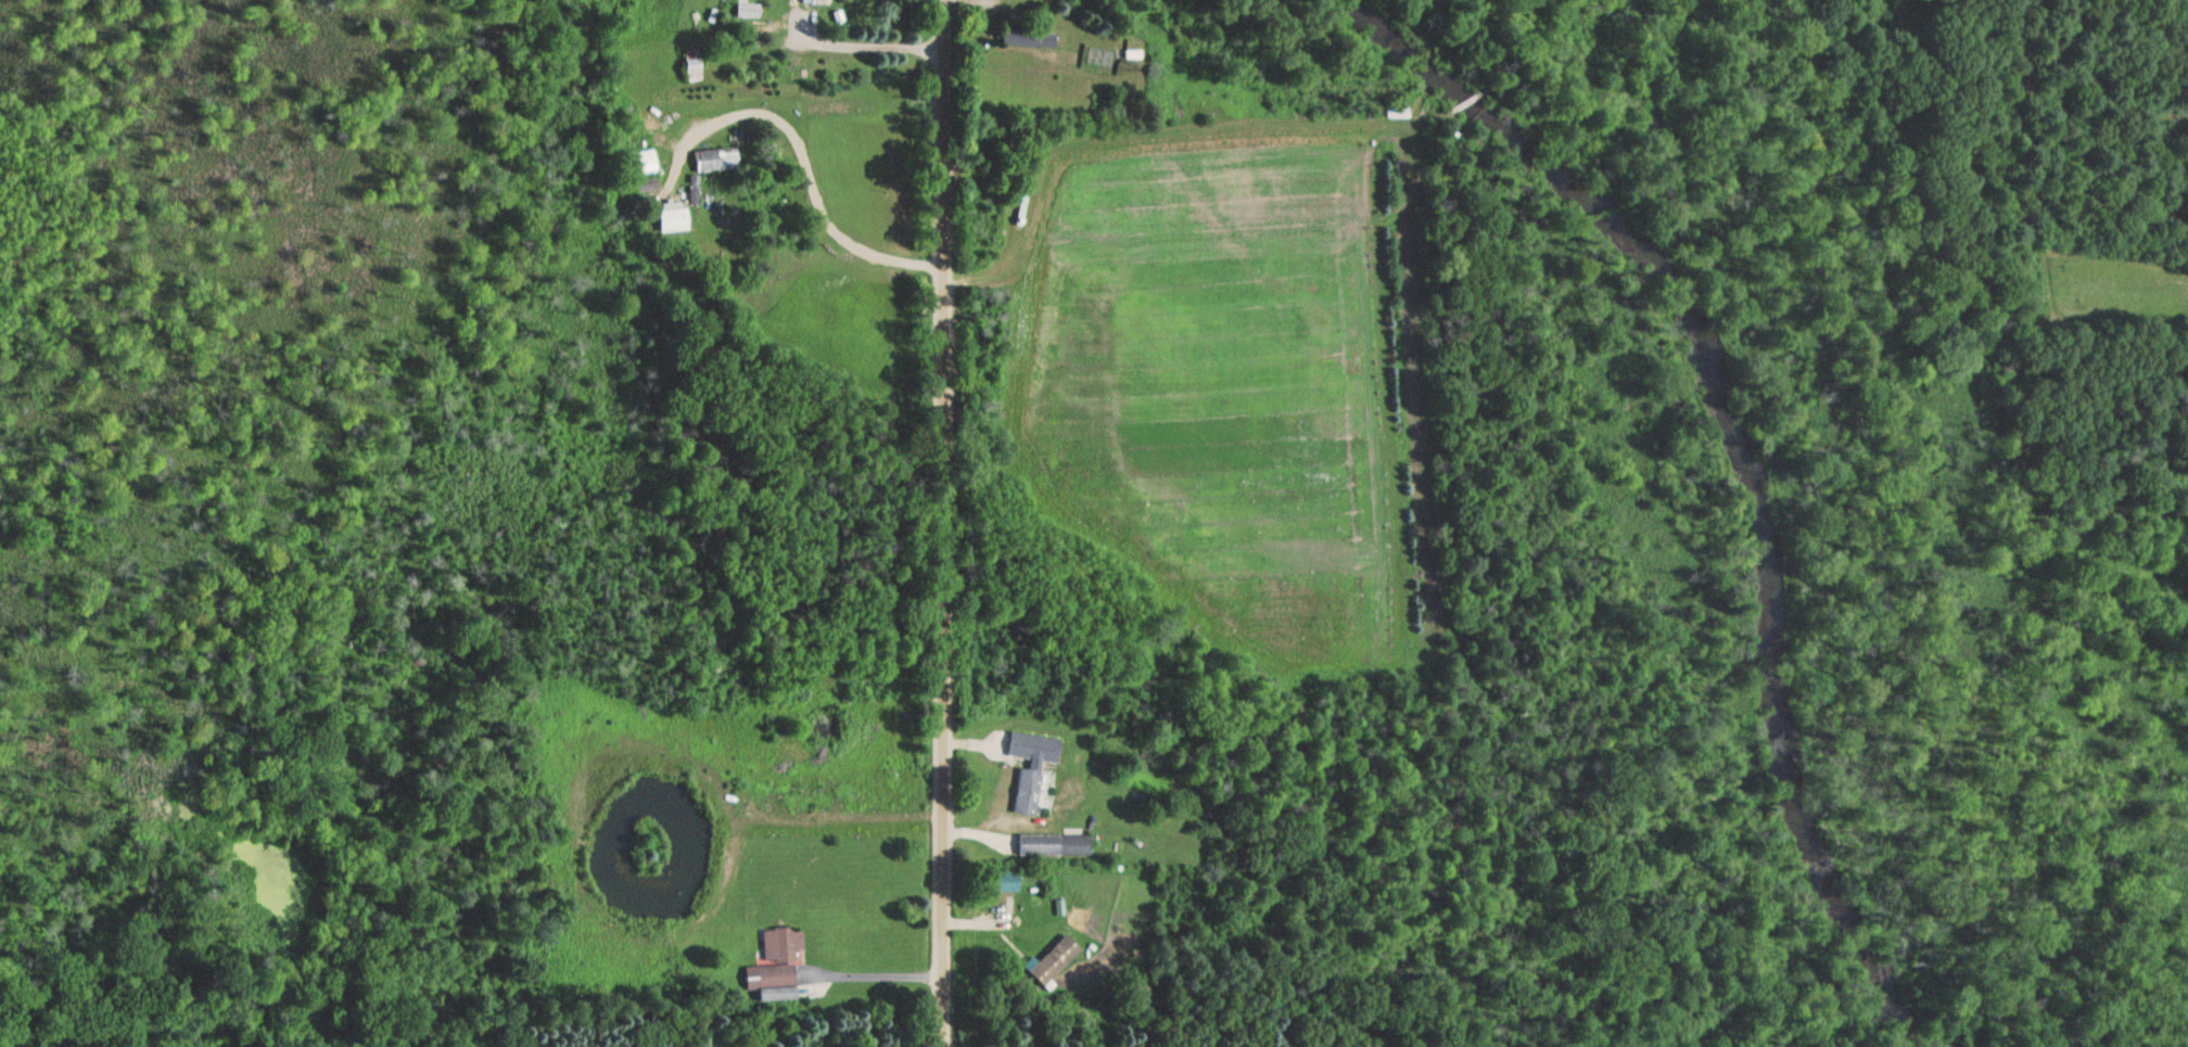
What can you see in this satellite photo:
building: (812, 2)
building: (748, 12)
building: (1027, 40)
road: (861, 43)
building: (692, 67)
building: (1397, 113)
building: (715, 161)
building: (645, 163)
road: (812, 193)
building: (673, 220)
road: (938, 523)
building: (1026, 793)
building: (804, 801)
building: (1052, 846)
building: (1052, 961)
building: (776, 967)

